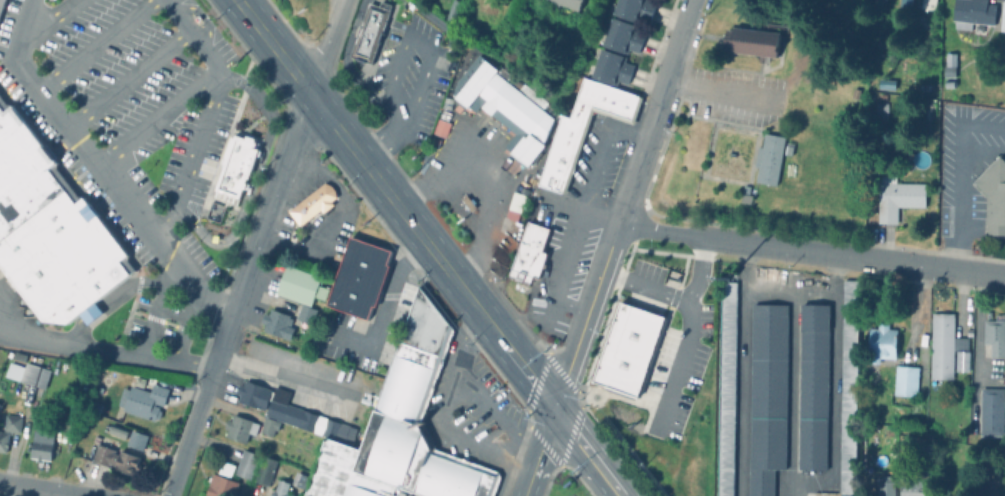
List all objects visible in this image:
building: (564, 3)
building: (902, 3)
building: (879, 4)
building: (925, 4)
building: (2, 6)
building: (631, 9)
building: (449, 10)
building: (971, 14)
building: (1002, 17)
road: (47, 22)
building: (369, 33)
building: (618, 36)
road: (403, 41)
building: (750, 42)
road: (98, 46)
road: (274, 48)
road: (329, 48)
road: (674, 51)
building: (607, 67)
road: (128, 81)
road: (421, 81)
building: (831, 83)
building: (884, 84)
building: (921, 88)
road: (716, 90)
road: (400, 92)
building: (827, 99)
building: (880, 111)
parking lot: (128, 112)
building: (507, 113)
building: (445, 114)
road: (154, 116)
road: (204, 122)
building: (439, 128)
building: (580, 129)
road: (385, 132)
building: (431, 142)
road: (599, 153)
building: (766, 159)
road: (98, 169)
building: (235, 171)
road: (960, 176)
road: (254, 177)
road: (485, 181)
building: (992, 186)
building: (896, 196)
building: (467, 202)
building: (514, 204)
building: (311, 207)
road: (579, 211)
building: (50, 229)
road: (288, 246)
road: (433, 251)
building: (529, 251)
road: (809, 253)
road: (605, 254)
road: (560, 269)
road: (698, 272)
building: (358, 281)
building: (298, 284)
road: (782, 287)
road: (237, 295)
road: (385, 303)
road: (110, 304)
road: (156, 311)
building: (304, 313)
building: (277, 322)
road: (689, 324)
road: (185, 329)
building: (994, 337)
road: (977, 340)
road: (467, 342)
building: (879, 342)
building: (625, 343)
building: (931, 344)
building: (947, 347)
building: (17, 354)
road: (103, 355)
building: (26, 372)
road: (286, 377)
building: (904, 380)
building: (811, 382)
building: (726, 385)
building: (847, 388)
road: (791, 392)
building: (765, 393)
building: (253, 394)
road: (447, 399)
building: (142, 400)
traffic signals: (554, 407)
building: (990, 411)
building: (414, 419)
road: (562, 421)
building: (268, 425)
building: (8, 427)
building: (239, 427)
building: (41, 444)
road: (539, 451)
building: (115, 458)
road: (609, 459)
building: (246, 463)
road: (585, 467)
building: (265, 470)
building: (332, 470)
building: (884, 485)
building: (220, 486)
building: (280, 488)
building: (368, 488)
building: (911, 488)
road: (34, 490)

